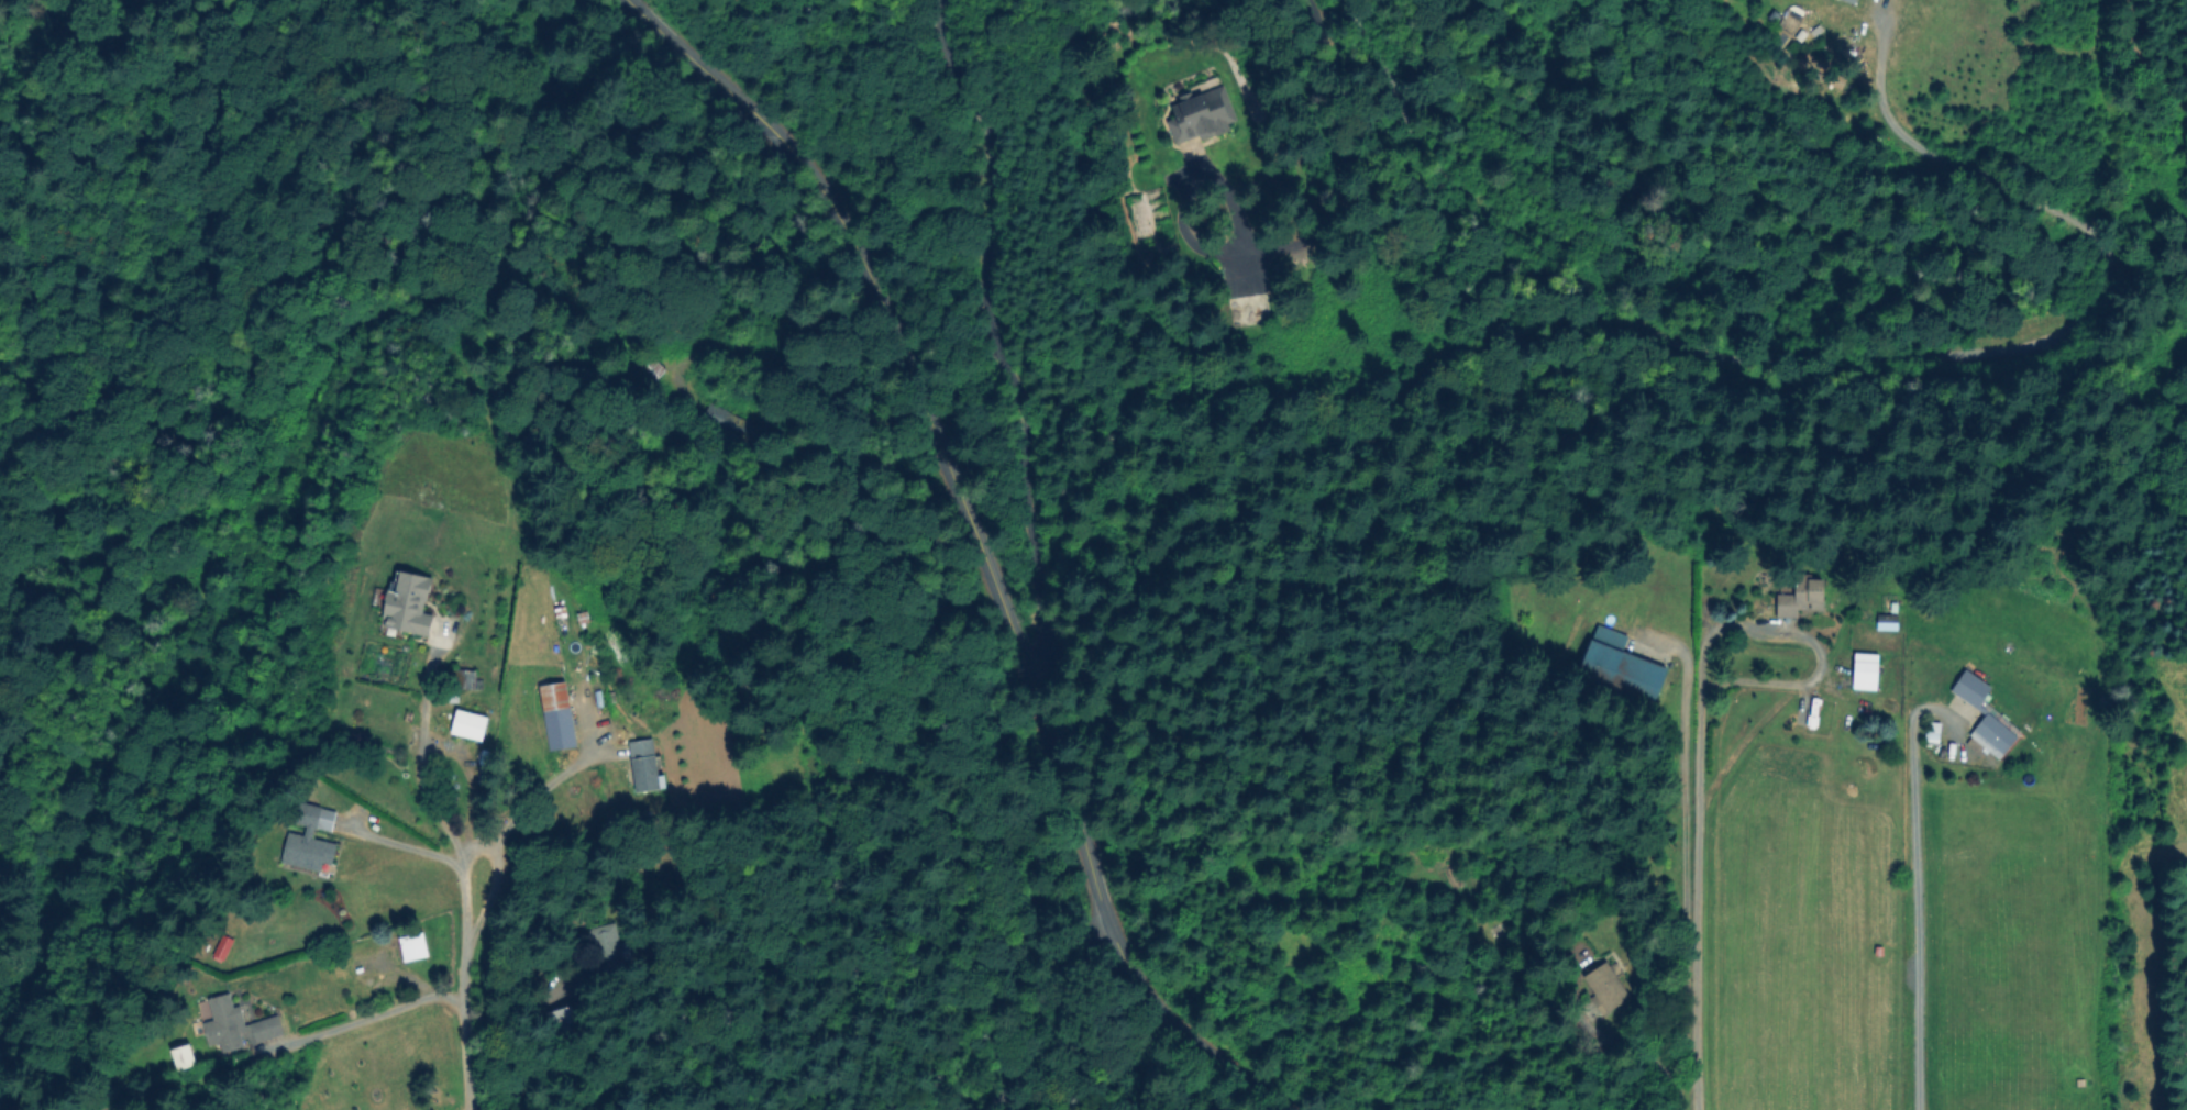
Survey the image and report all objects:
building: (1851, 1)
building: (1900, 2)
building: (1202, 115)
building: (1249, 310)
building: (649, 371)
building: (727, 424)
road: (976, 550)
building: (1517, 592)
building: (1800, 601)
building: (409, 603)
building: (1886, 624)
road: (1803, 645)
building: (1620, 671)
building: (1864, 673)
building: (461, 679)
building: (1805, 712)
building: (1986, 715)
building: (555, 718)
building: (467, 726)
building: (1934, 731)
building: (379, 733)
building: (642, 767)
road: (431, 773)
road: (530, 799)
building: (307, 814)
road: (411, 848)
building: (308, 852)
road: (1675, 864)
road: (1908, 878)
road: (1690, 897)
building: (415, 946)
building: (224, 947)
building: (607, 953)
building: (1580, 959)
building: (1608, 986)
road: (457, 991)
road: (1056, 1017)
building: (225, 1023)
building: (566, 1025)
building: (268, 1028)
road: (287, 1046)
building: (181, 1057)

